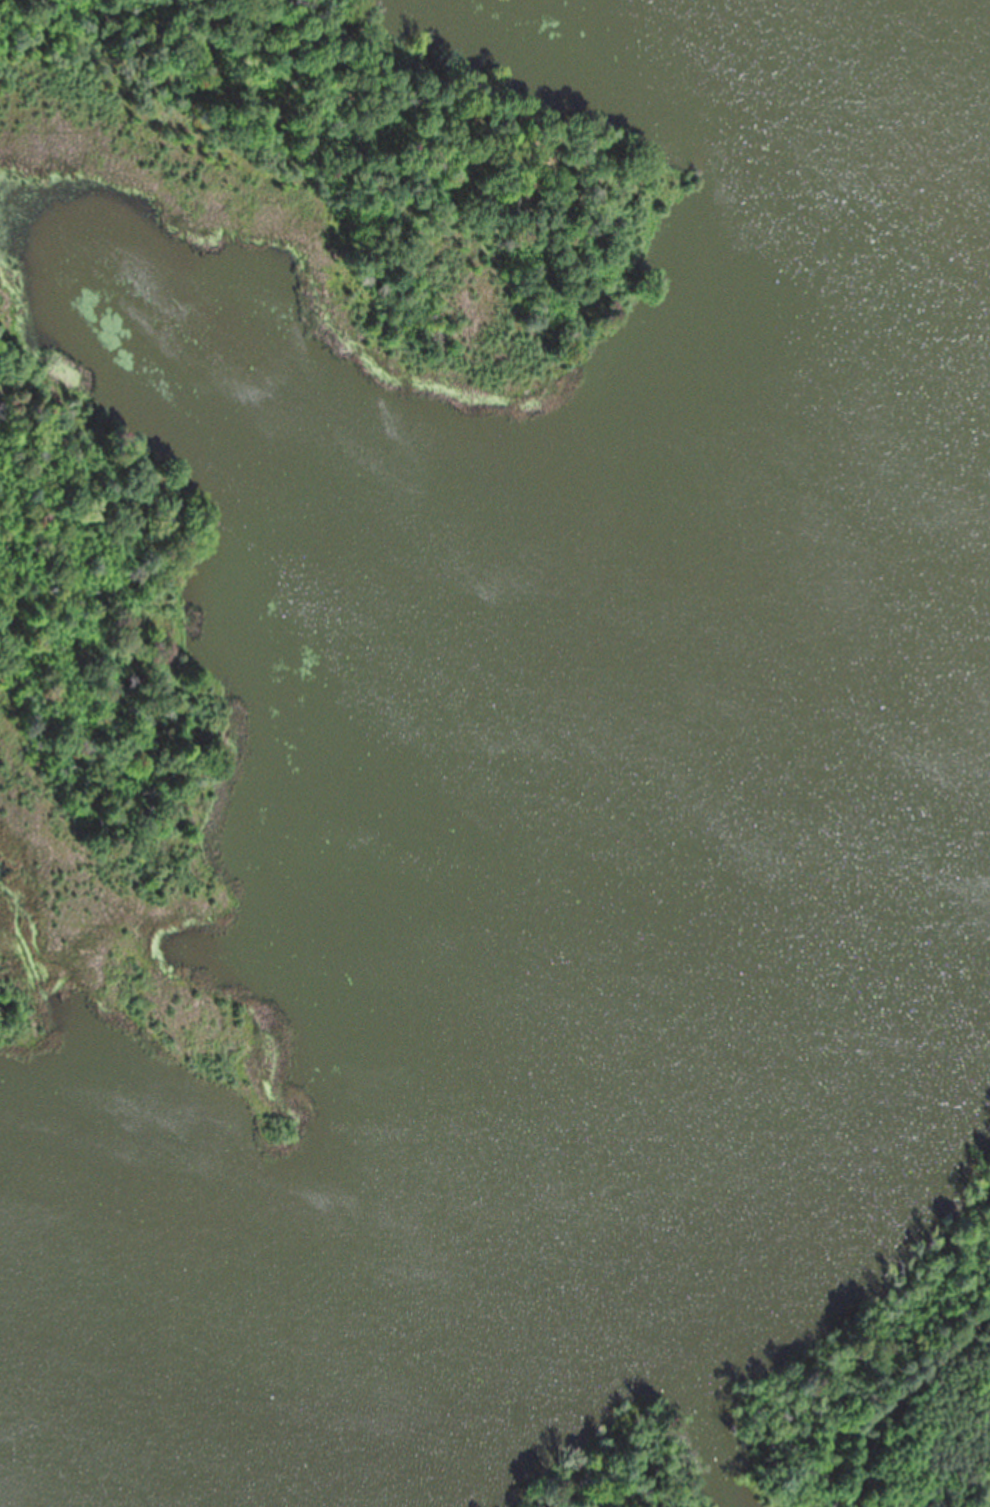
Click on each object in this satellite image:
road: (900, 1396)

